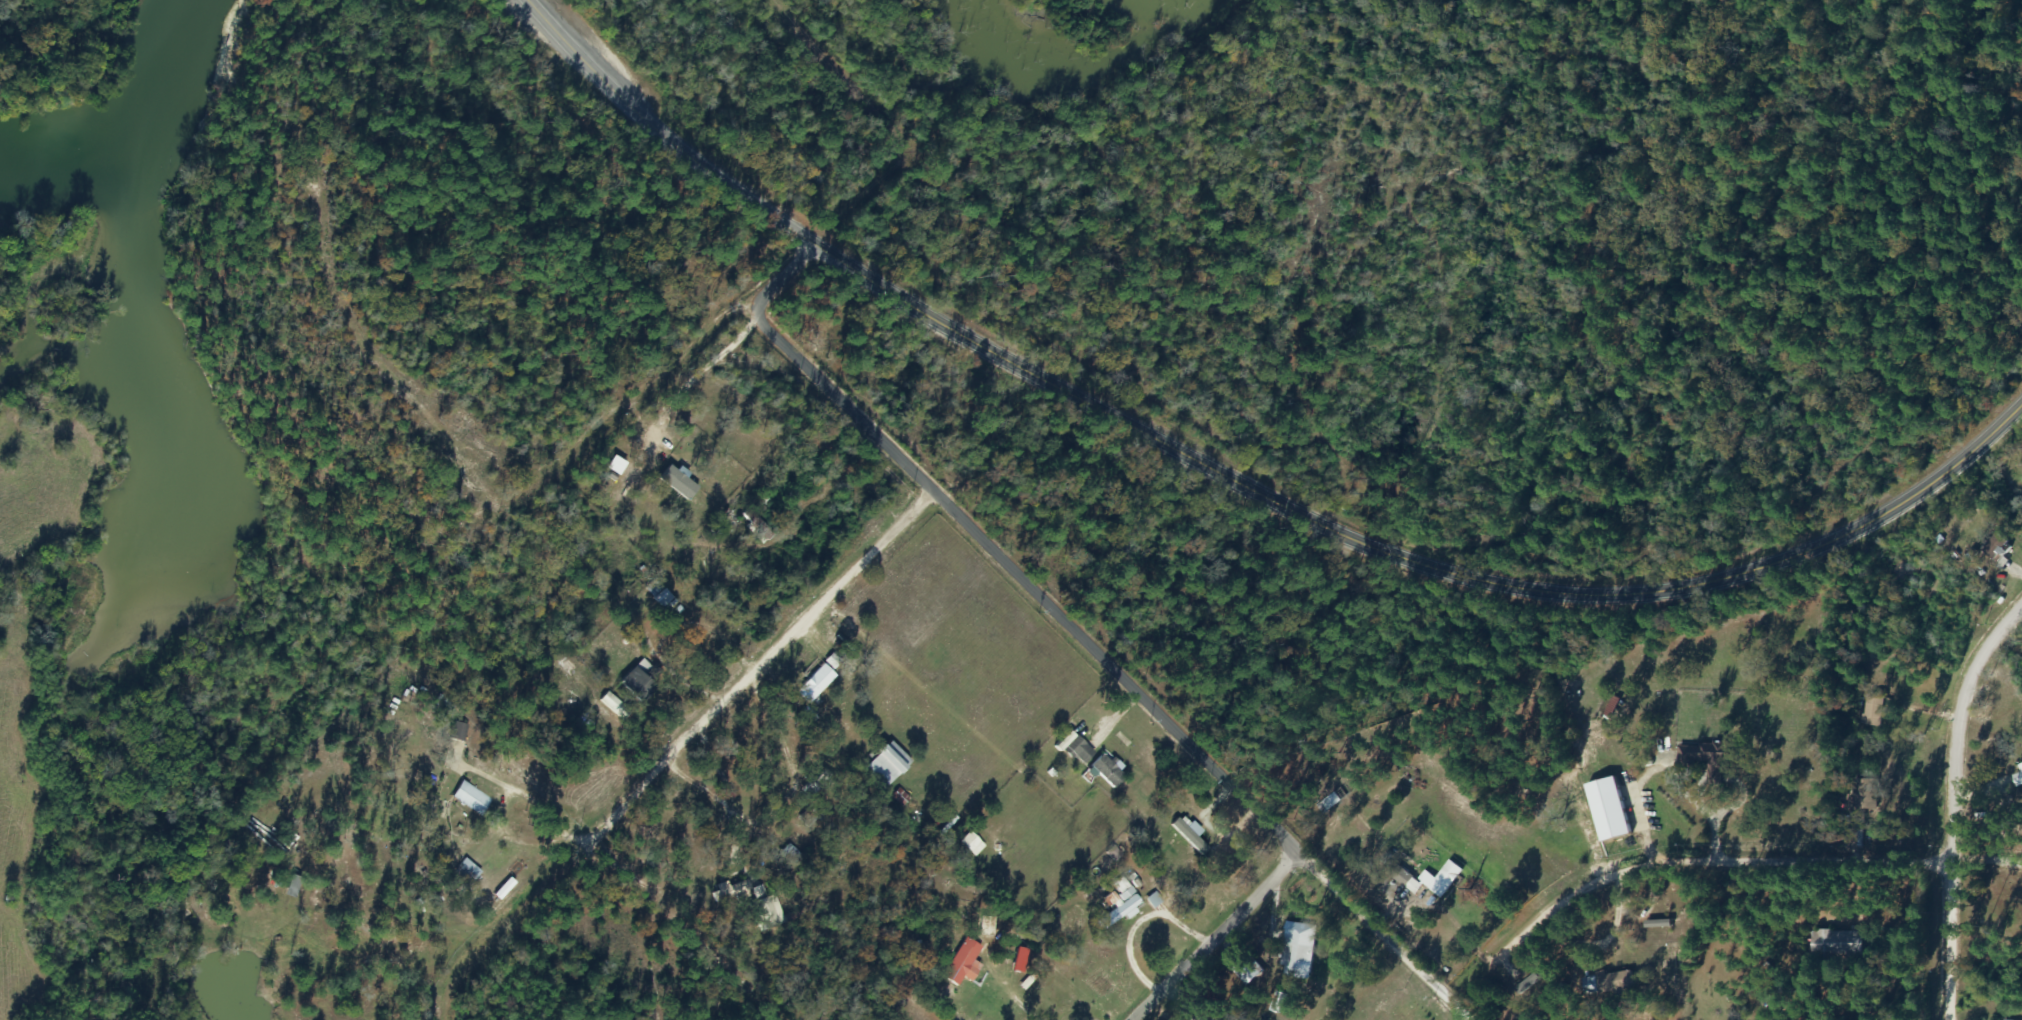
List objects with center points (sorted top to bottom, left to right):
road: (784, 286)
road: (1237, 479)
road: (558, 518)
building: (1992, 547)
building: (658, 597)
road: (1123, 674)
building: (545, 683)
building: (814, 684)
building: (631, 686)
road: (749, 686)
building: (2017, 709)
building: (1871, 711)
building: (1076, 751)
building: (1700, 755)
building: (883, 766)
building: (2019, 771)
building: (1103, 772)
building: (470, 799)
road: (1950, 803)
building: (969, 845)
building: (464, 872)
road: (1688, 879)
building: (1440, 880)
building: (729, 891)
building: (1116, 908)
road: (684, 928)
road: (1228, 939)
road: (486, 944)
building: (1834, 945)
building: (1296, 950)
building: (958, 962)
building: (1604, 984)
road: (1464, 1014)

